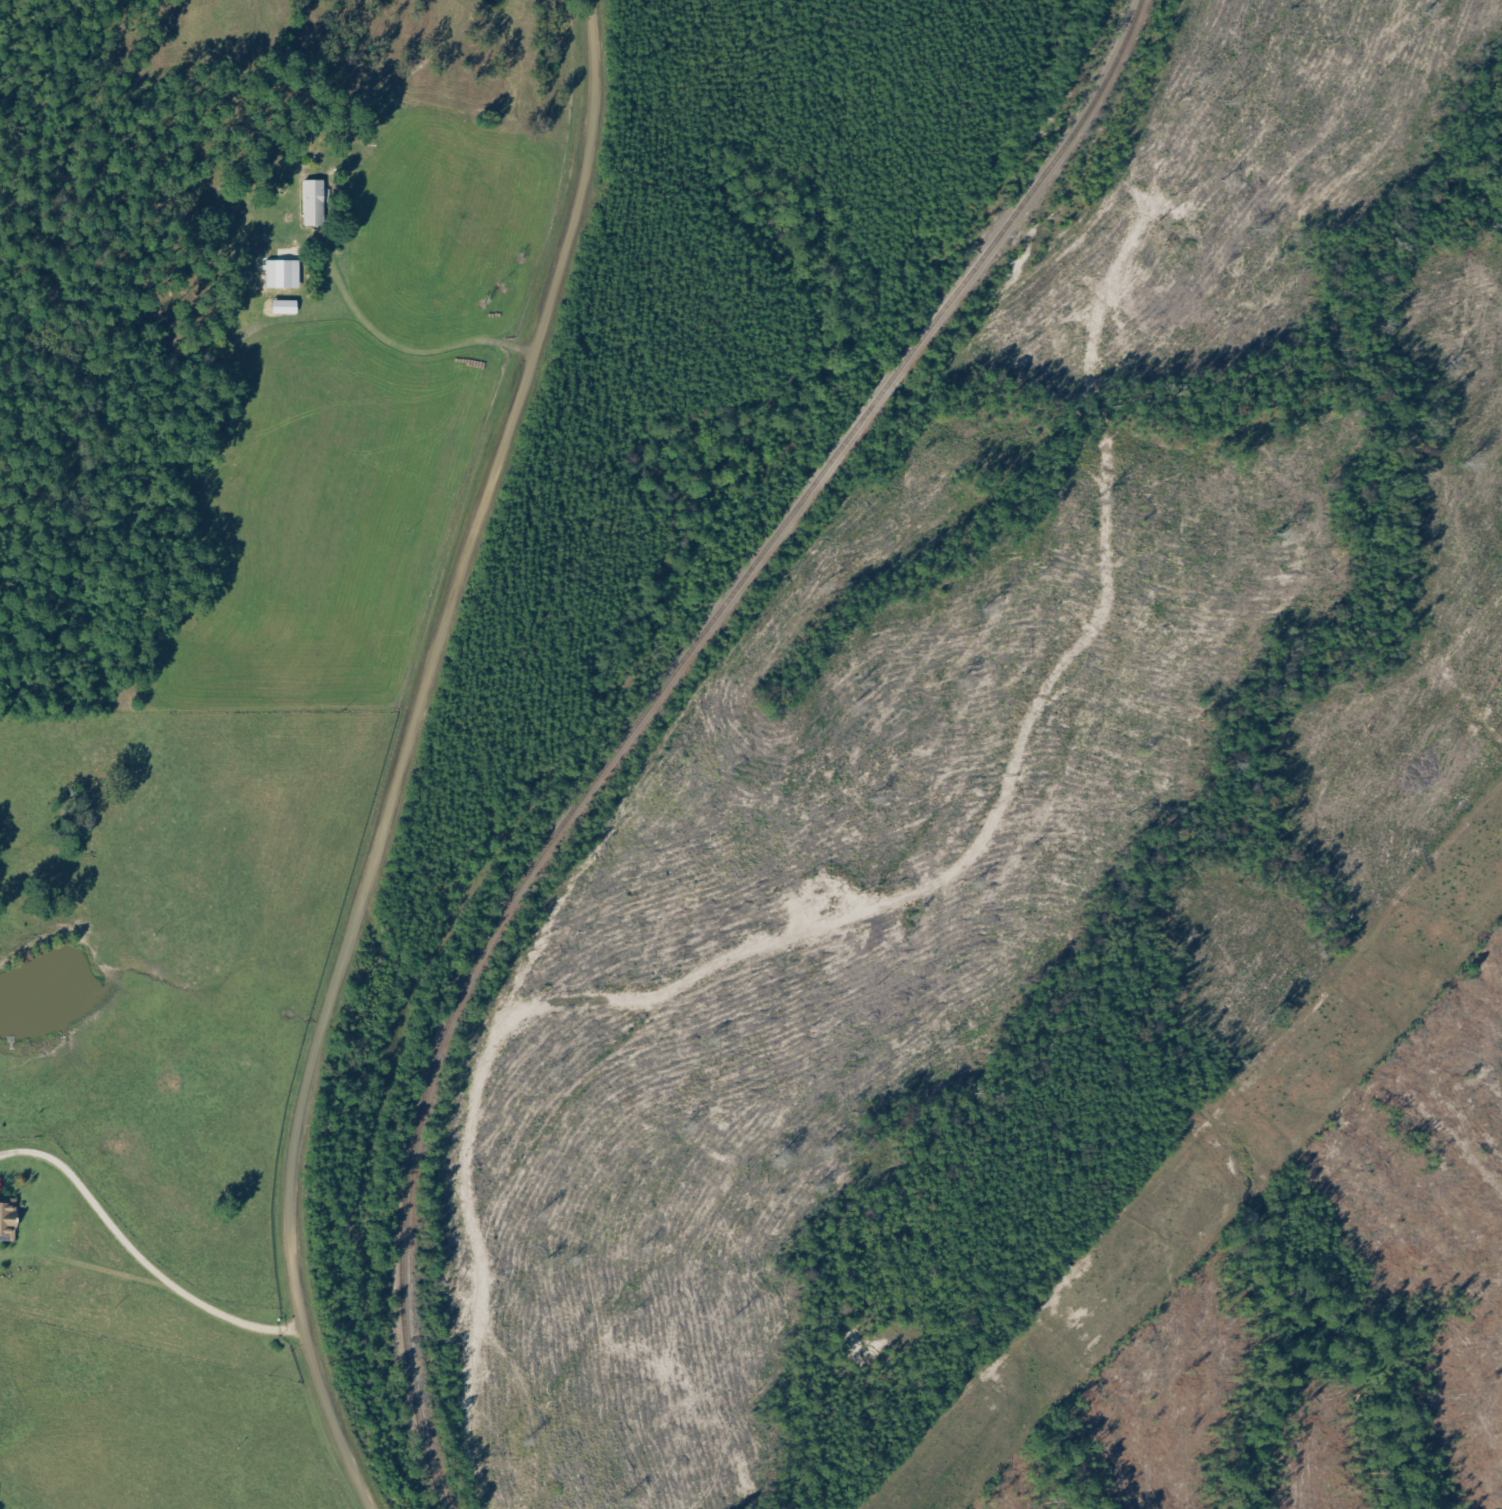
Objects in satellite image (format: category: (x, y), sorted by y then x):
building: (316, 202)
building: (285, 273)
building: (287, 307)
road: (263, 422)
railway: (645, 710)
road: (403, 754)
building: (9, 1221)

